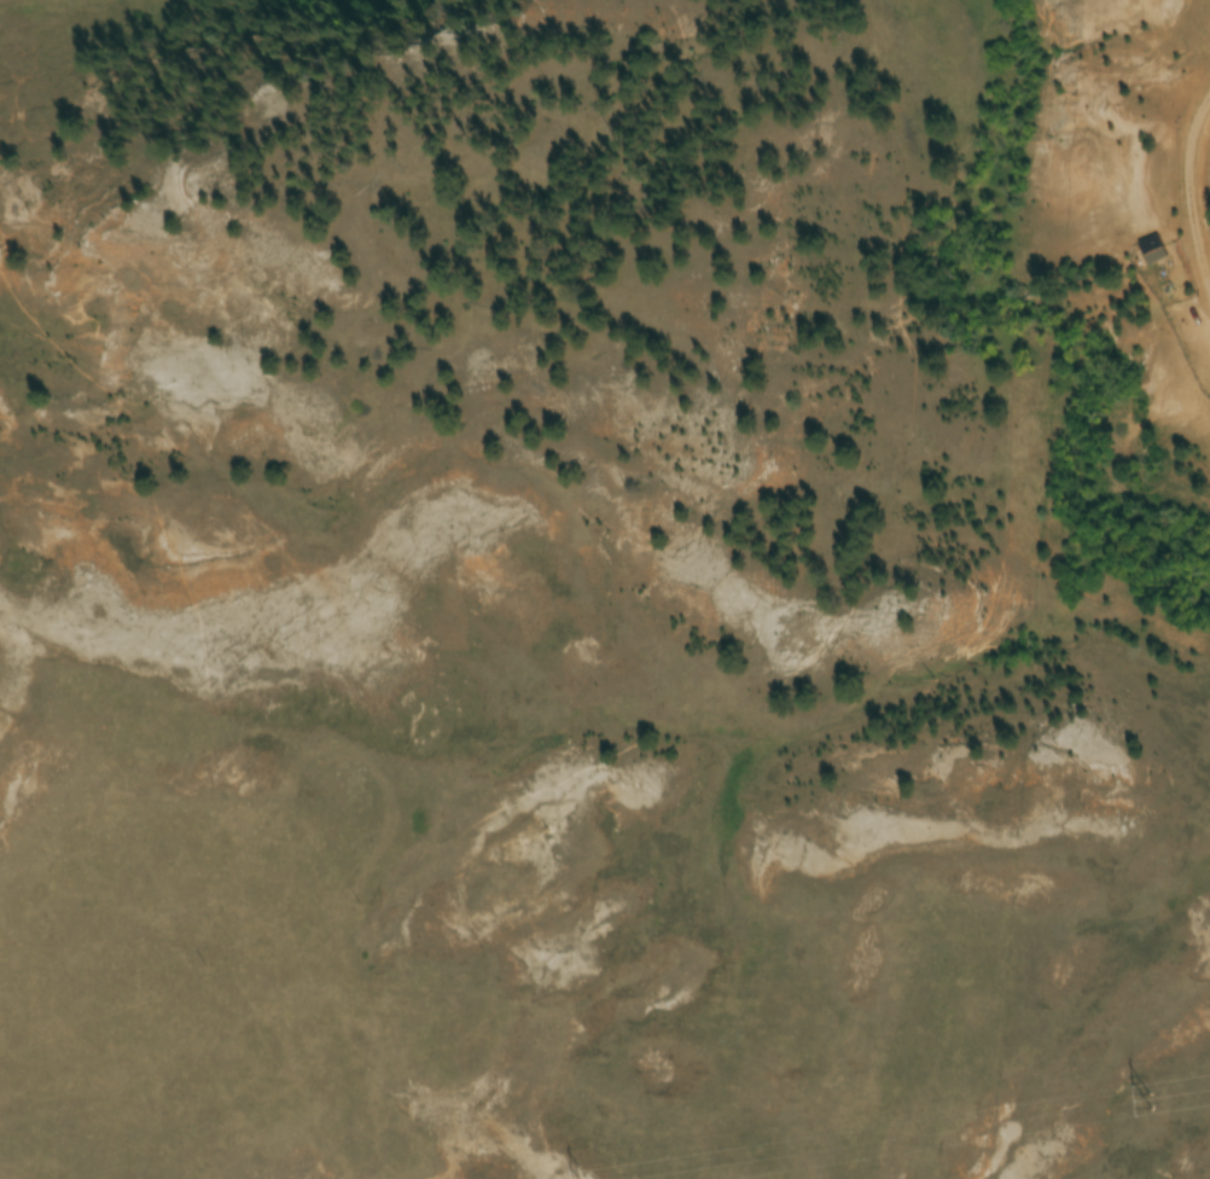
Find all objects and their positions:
power tower: (1150, 1103)

